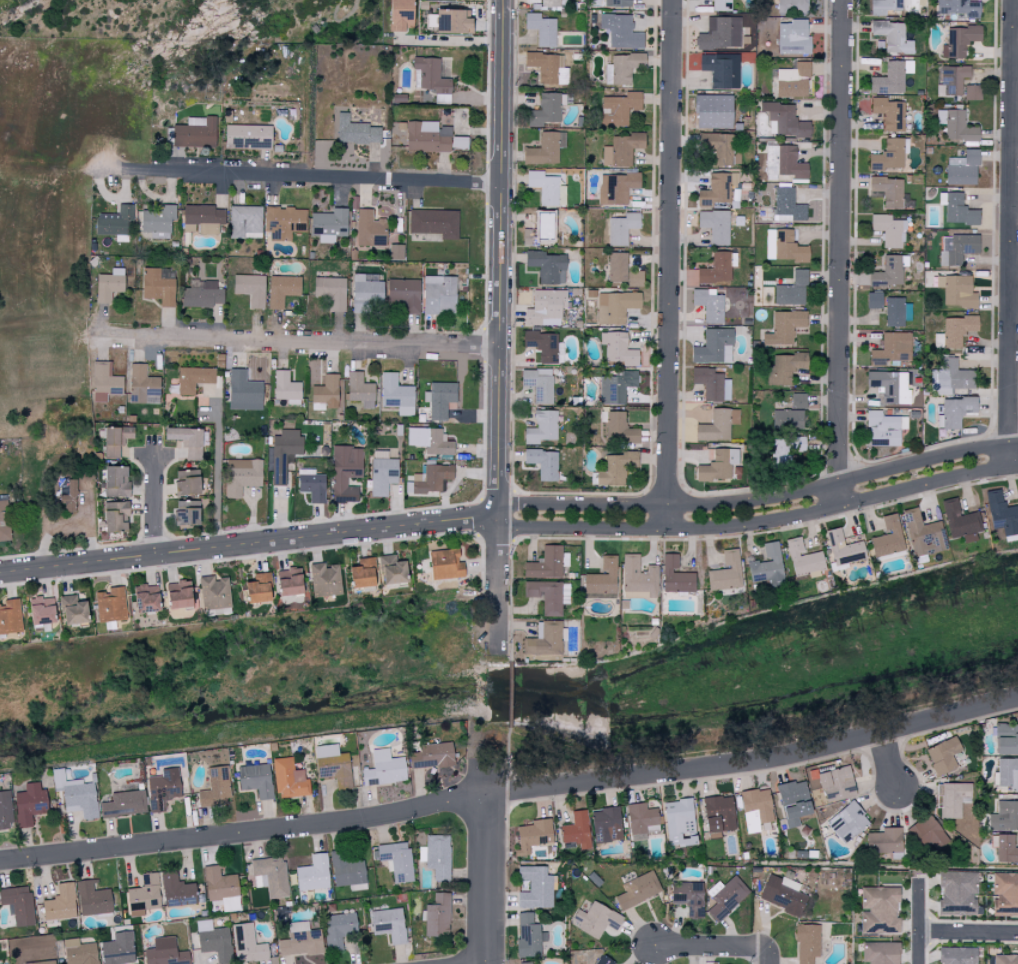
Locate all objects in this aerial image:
building: (551, 3)
building: (618, 3)
building: (722, 5)
building: (885, 5)
building: (794, 6)
building: (959, 7)
building: (404, 14)
park: (197, 19)
building: (455, 20)
road: (68, 29)
building: (543, 29)
building: (622, 31)
building: (721, 32)
building: (893, 36)
building: (794, 37)
building: (960, 40)
building: (549, 67)
building: (624, 67)
building: (722, 69)
building: (432, 75)
building: (891, 77)
building: (954, 79)
building: (794, 80)
building: (973, 92)
building: (620, 108)
building: (546, 110)
building: (715, 111)
building: (890, 113)
building: (785, 120)
building: (957, 125)
building: (196, 131)
building: (357, 131)
building: (249, 136)
building: (429, 136)
building: (460, 142)
building: (720, 147)
building: (546, 149)
building: (623, 149)
building: (890, 155)
building: (785, 162)
building: (964, 168)
road: (292, 176)
building: (617, 187)
building: (547, 188)
building: (718, 189)
building: (890, 190)
building: (788, 205)
building: (958, 209)
building: (204, 218)
building: (159, 220)
building: (246, 221)
building: (285, 222)
building: (435, 222)
building: (330, 224)
building: (716, 225)
building: (371, 228)
building: (622, 228)
building: (889, 229)
road: (1009, 234)
building: (530, 236)
building: (784, 245)
building: (958, 247)
road: (838, 252)
road: (499, 257)
road: (667, 264)
building: (548, 266)
building: (617, 266)
building: (716, 269)
building: (891, 271)
building: (635, 278)
building: (110, 285)
building: (160, 285)
building: (252, 288)
building: (283, 289)
building: (793, 290)
building: (958, 290)
building: (333, 291)
building: (368, 292)
building: (406, 293)
building: (203, 294)
building: (440, 294)
building: (875, 299)
building: (710, 304)
building: (546, 306)
building: (616, 306)
building: (898, 311)
building: (785, 326)
building: (955, 331)
road: (296, 339)
building: (543, 344)
building: (713, 345)
building: (620, 348)
building: (893, 348)
building: (786, 368)
building: (951, 376)
building: (194, 378)
building: (106, 382)
building: (143, 383)
building: (540, 384)
building: (890, 385)
building: (617, 386)
building: (288, 387)
building: (327, 389)
building: (361, 390)
building: (245, 391)
building: (398, 394)
building: (441, 398)
building: (800, 400)
building: (957, 410)
building: (789, 419)
building: (723, 425)
building: (543, 427)
building: (619, 428)
building: (886, 428)
building: (118, 440)
building: (190, 440)
building: (431, 440)
building: (787, 446)
building: (284, 453)
building: (544, 462)
building: (716, 466)
building: (617, 468)
building: (346, 472)
road: (215, 474)
building: (242, 475)
building: (384, 475)
building: (431, 478)
building: (118, 480)
building: (190, 481)
building: (313, 485)
building: (70, 496)
road: (759, 499)
road: (155, 505)
building: (190, 512)
building: (1003, 513)
building: (118, 516)
building: (4, 518)
road: (759, 522)
building: (923, 534)
building: (889, 537)
road: (248, 544)
building: (845, 548)
building: (805, 559)
building: (548, 563)
building: (447, 564)
building: (768, 565)
building: (394, 570)
building: (727, 572)
building: (365, 573)
building: (677, 575)
building: (639, 578)
building: (326, 579)
building: (602, 579)
building: (292, 581)
road: (498, 583)
building: (261, 588)
building: (215, 592)
building: (182, 594)
building: (549, 595)
building: (148, 598)
building: (112, 604)
building: (76, 609)
building: (44, 610)
building: (11, 616)
building: (545, 640)
building: (1008, 738)
building: (944, 755)
building: (433, 756)
building: (334, 765)
road: (887, 765)
building: (385, 769)
building: (1007, 774)
building: (290, 779)
building: (256, 780)
building: (838, 783)
building: (216, 787)
building: (164, 788)
building: (77, 795)
road: (511, 796)
building: (952, 798)
building: (796, 801)
building: (30, 803)
building: (125, 804)
building: (757, 809)
building: (6, 811)
building: (720, 813)
building: (1005, 816)
building: (681, 822)
building: (848, 822)
building: (608, 825)
building: (578, 830)
building: (928, 832)
building: (535, 835)
building: (1005, 848)
building: (437, 856)
building: (397, 860)
road: (484, 863)
building: (349, 869)
building: (314, 873)
building: (271, 876)
building: (222, 888)
building: (535, 888)
building: (640, 889)
building: (178, 890)
building: (1005, 892)
building: (958, 893)
building: (784, 894)
building: (145, 895)
building: (726, 897)
building: (690, 898)
building: (94, 899)
building: (61, 903)
building: (19, 904)
building: (880, 910)
building: (439, 916)
building: (597, 919)
building: (390, 924)
road: (917, 924)
building: (340, 929)
road: (967, 931)
building: (529, 936)
building: (301, 940)
building: (215, 941)
building: (808, 943)
building: (249, 944)
road: (711, 946)
building: (119, 949)
building: (80, 952)
building: (166, 952)
building: (881, 953)
building: (959, 955)
road: (768, 957)
building: (1006, 959)
building: (605, 960)
building: (41, 962)
building: (526, 963)

